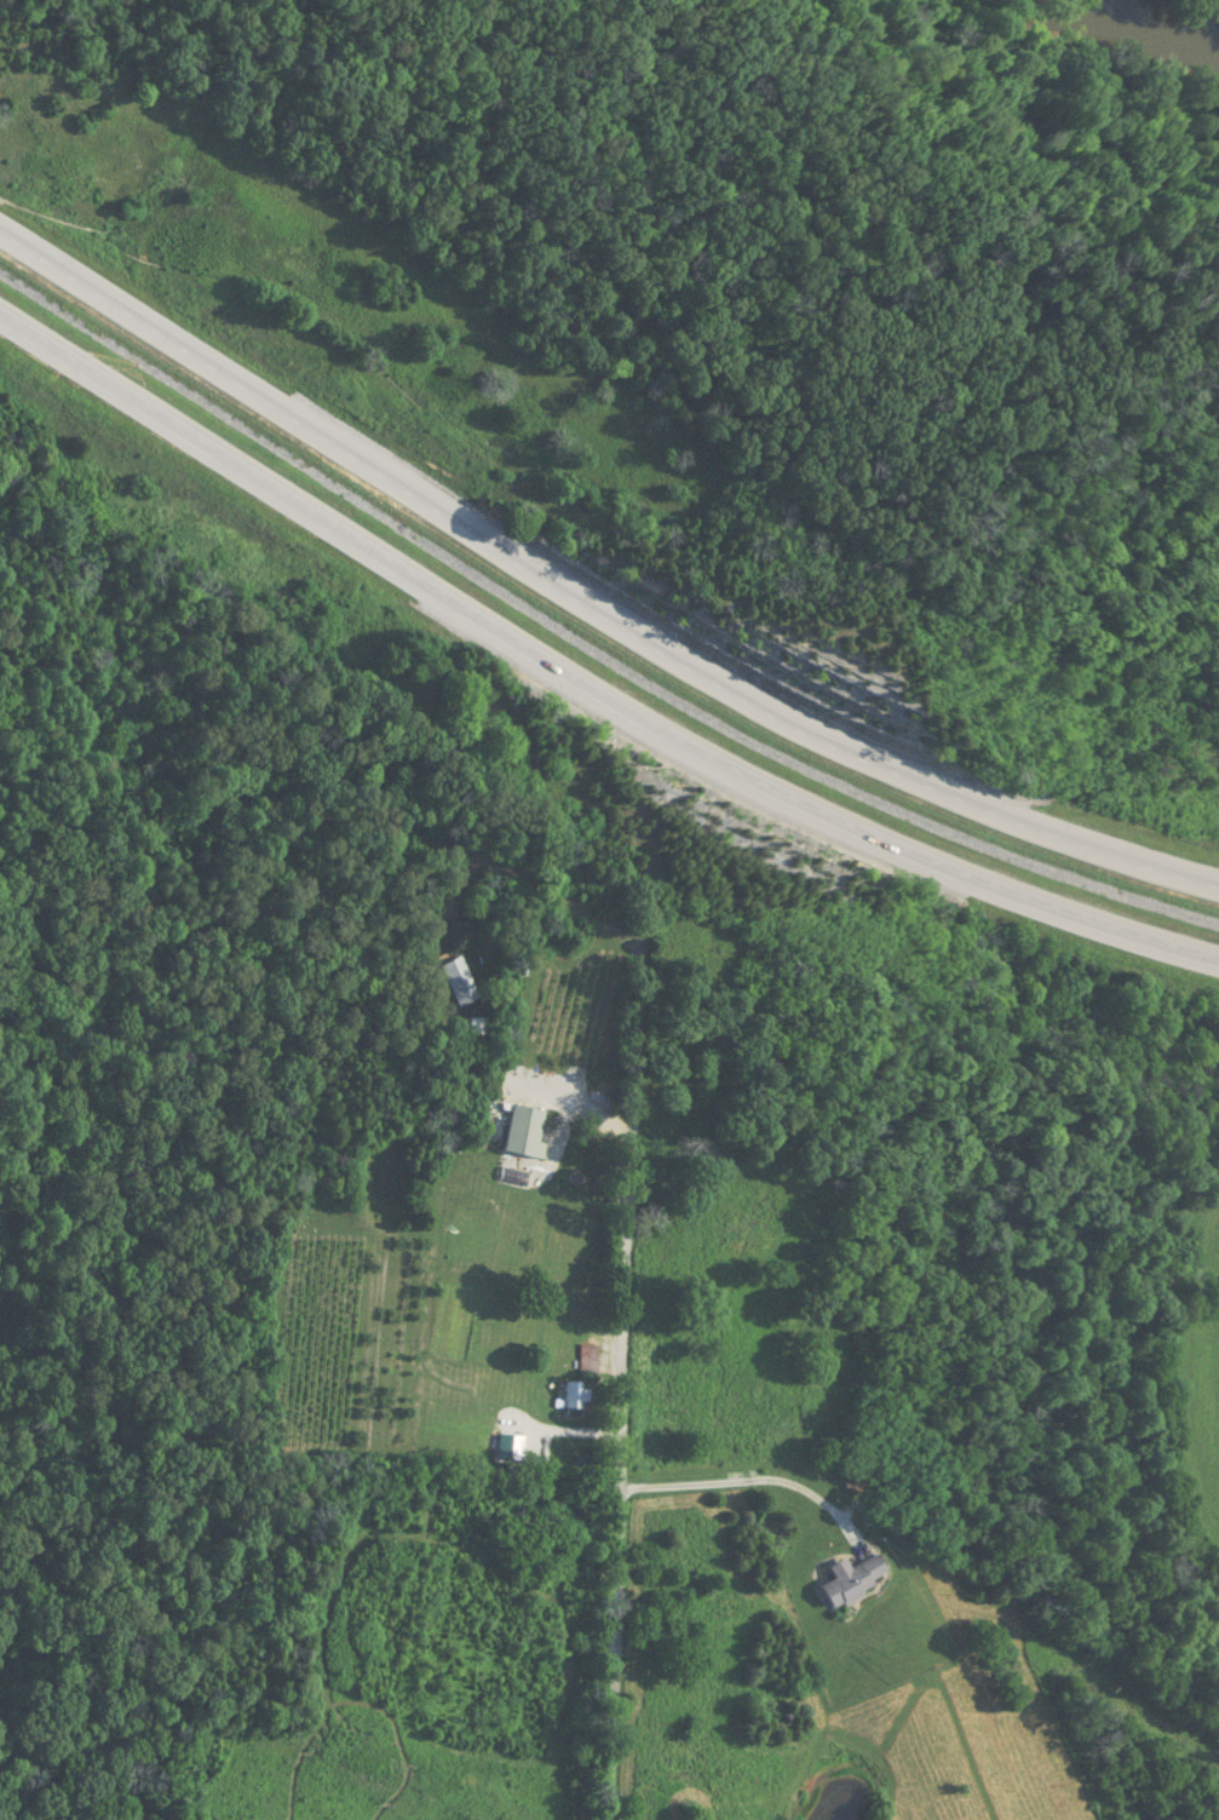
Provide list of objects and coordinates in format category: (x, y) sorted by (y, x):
river: (1052, 23)
road: (587, 604)
road: (588, 681)
building: (514, 1130)
building: (581, 1355)
road: (619, 1385)
building: (564, 1396)
building: (843, 1581)

